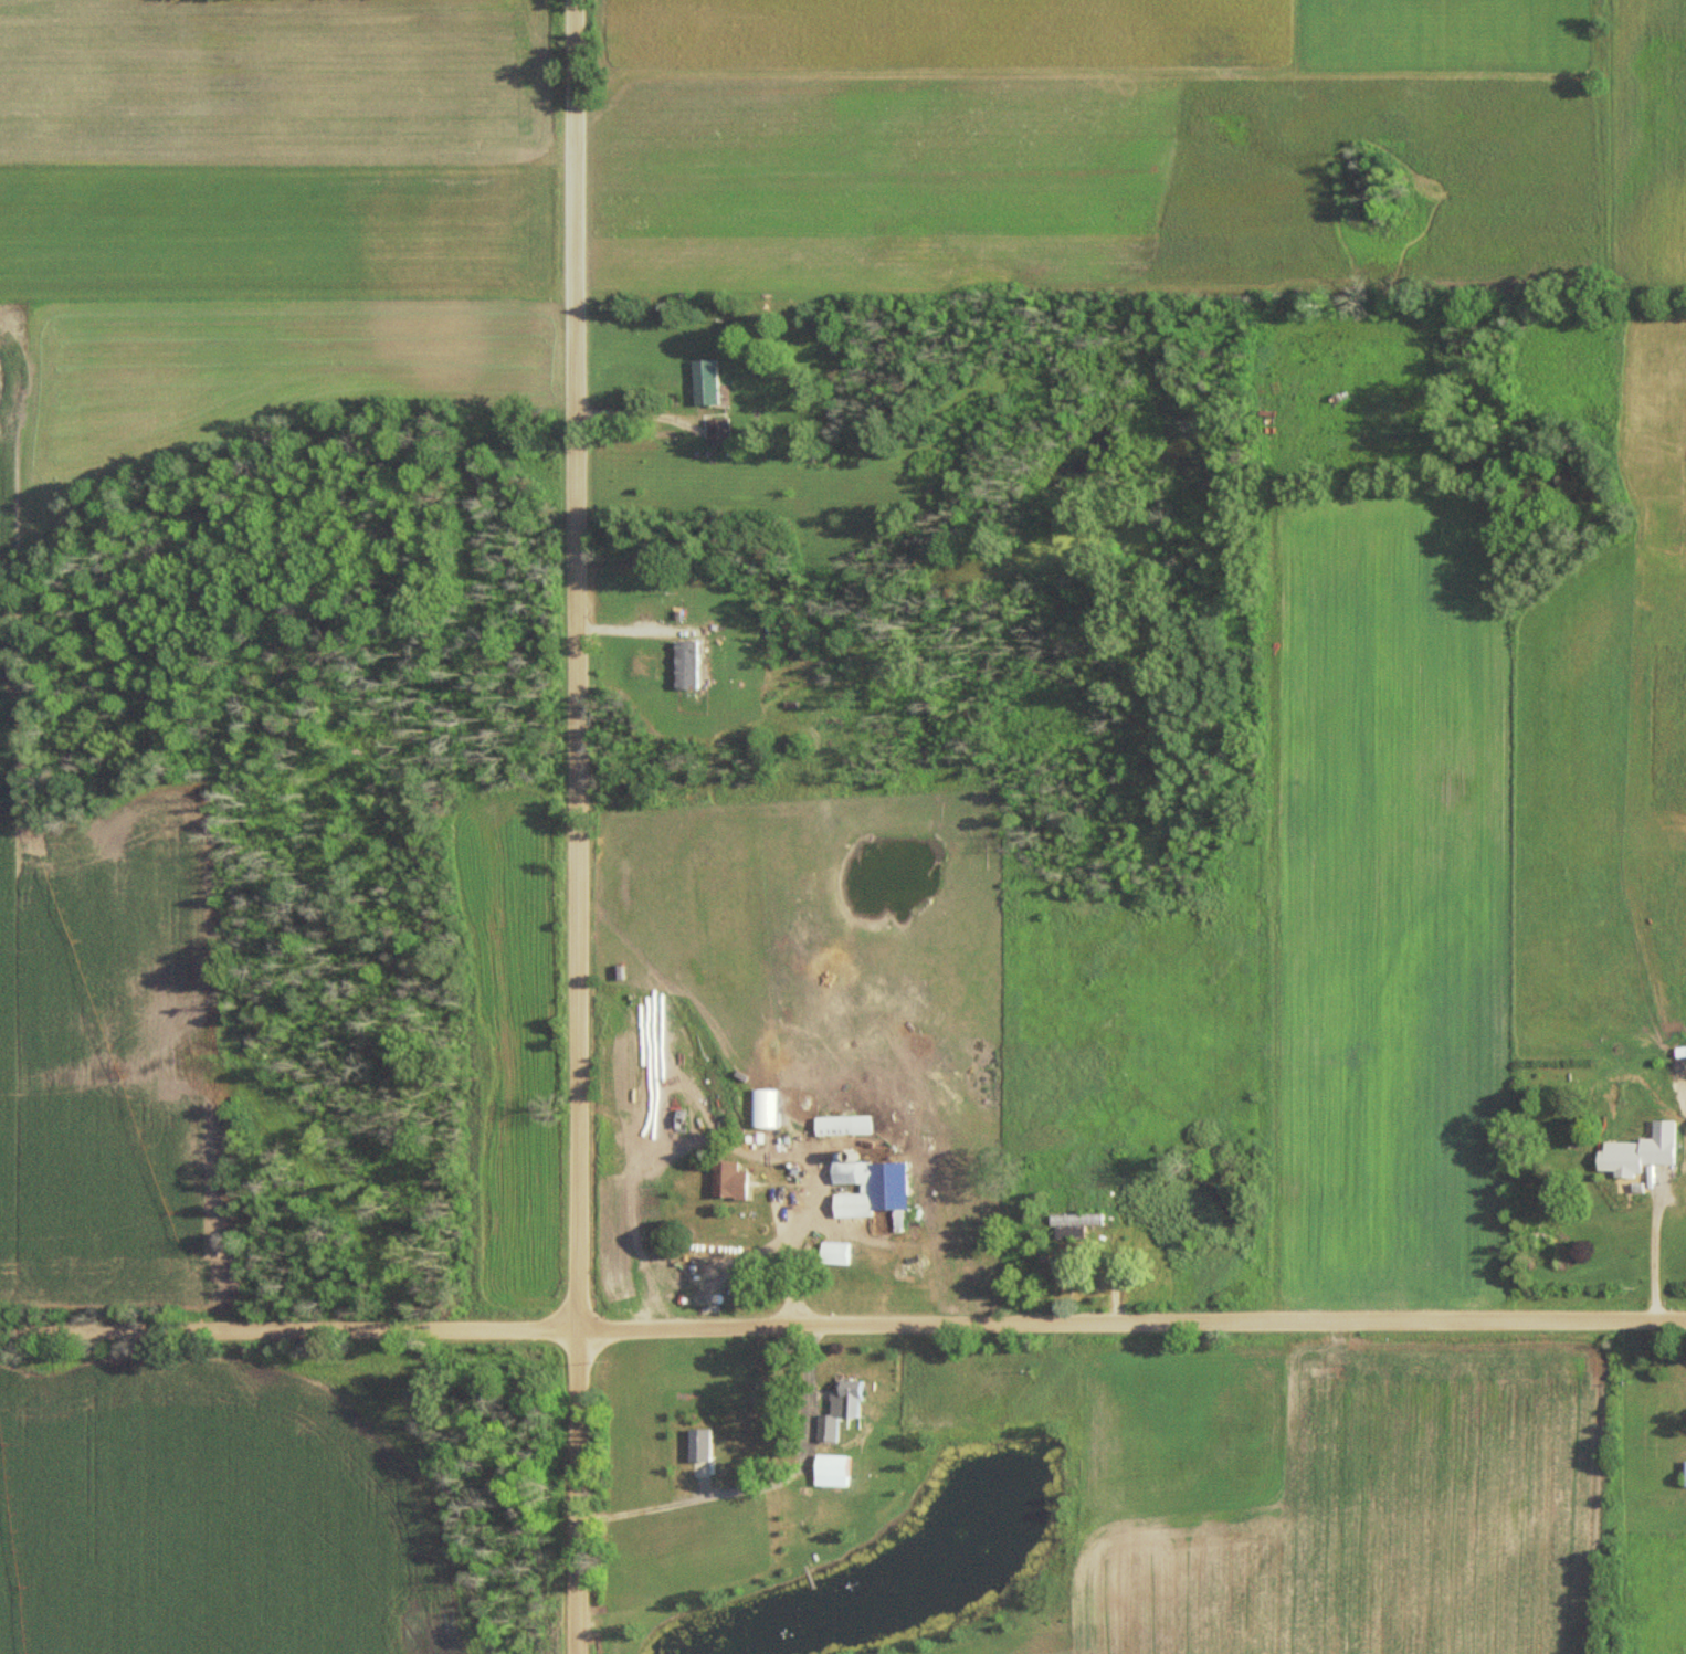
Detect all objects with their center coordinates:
building: (710, 382)
building: (723, 432)
road: (576, 664)
building: (691, 666)
building: (840, 1128)
building: (1635, 1151)
building: (736, 1183)
building: (896, 1198)
building: (860, 1207)
building: (1072, 1228)
building: (841, 1254)
road: (1652, 1254)
road: (843, 1326)
building: (846, 1413)
building: (705, 1446)
building: (840, 1467)
building: (1683, 1474)
road: (577, 1490)
road: (681, 1506)

